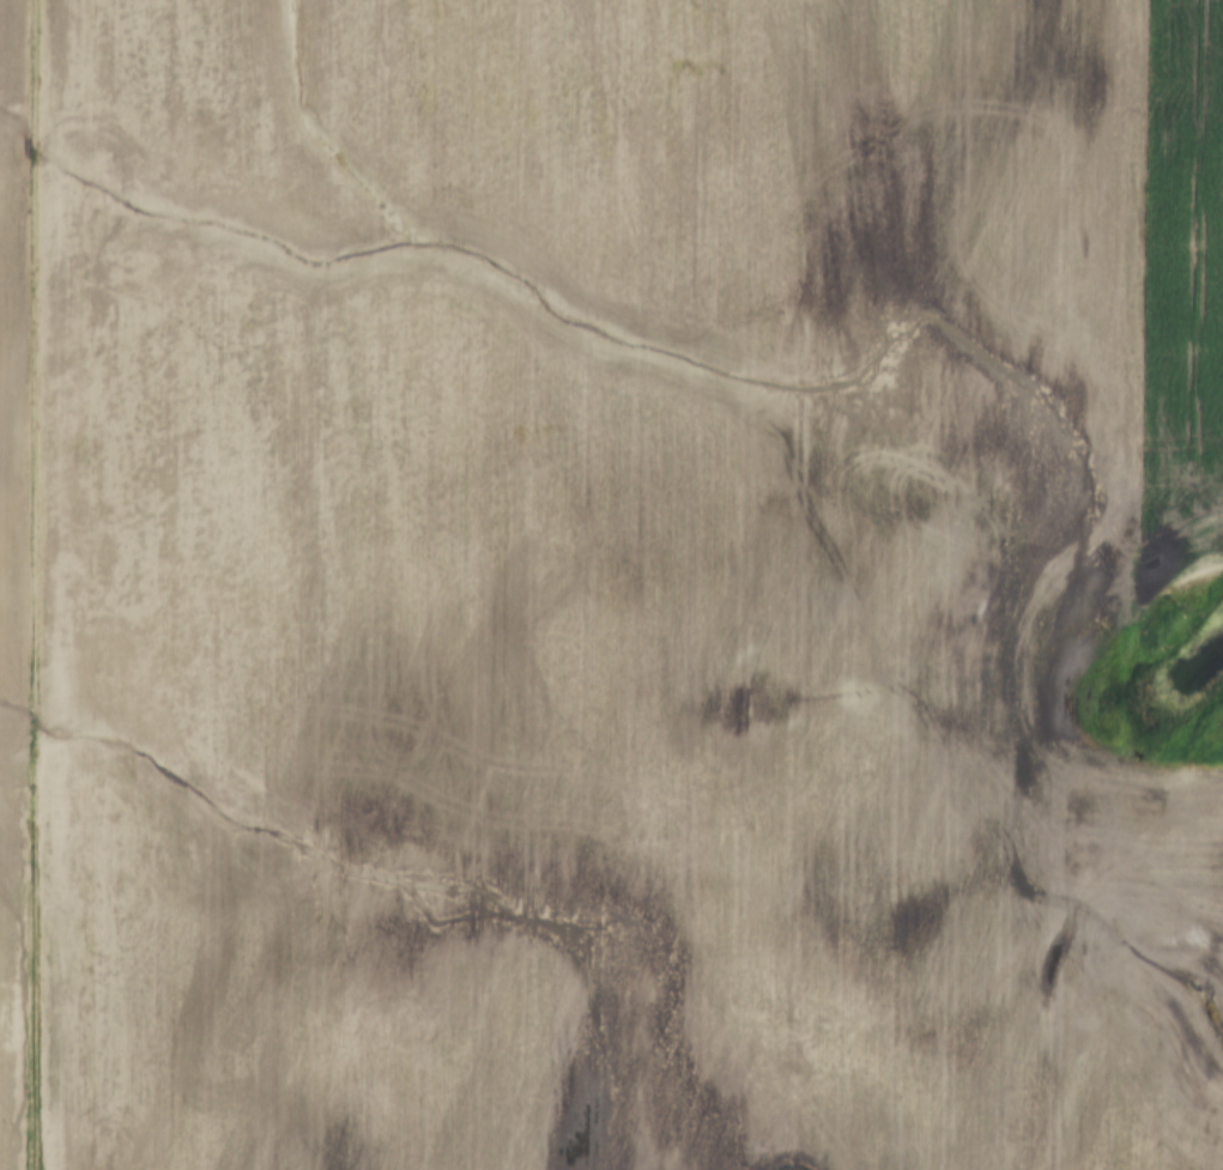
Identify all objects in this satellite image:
crop: (1183, 273)

